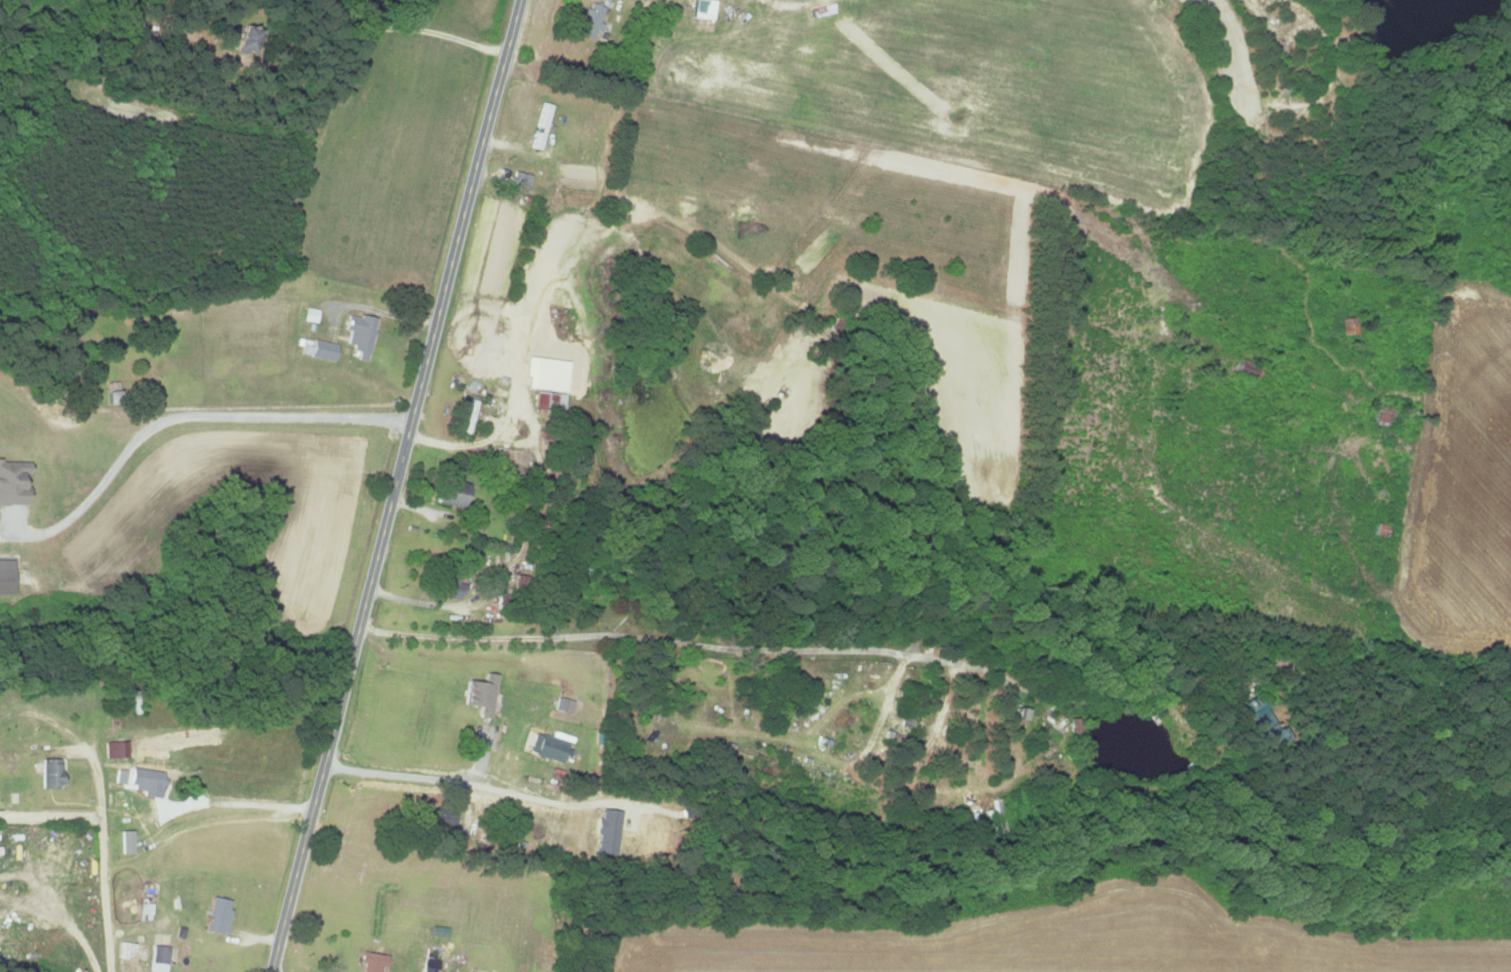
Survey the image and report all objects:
building: (703, 9)
building: (591, 22)
road: (391, 27)
building: (245, 37)
road: (379, 307)
building: (359, 334)
building: (319, 349)
road: (518, 384)
building: (111, 392)
building: (550, 400)
road: (182, 417)
building: (12, 482)
road: (389, 485)
building: (453, 494)
building: (5, 576)
building: (519, 582)
building: (451, 588)
building: (504, 594)
road: (791, 650)
building: (480, 694)
building: (1259, 720)
building: (546, 746)
building: (114, 749)
road: (413, 765)
building: (50, 773)
building: (119, 776)
building: (145, 781)
road: (530, 794)
road: (231, 803)
road: (100, 809)
road: (1, 811)
road: (50, 813)
building: (125, 842)
building: (143, 911)
building: (217, 915)
building: (158, 958)
building: (372, 962)
building: (431, 963)
road: (268, 970)

